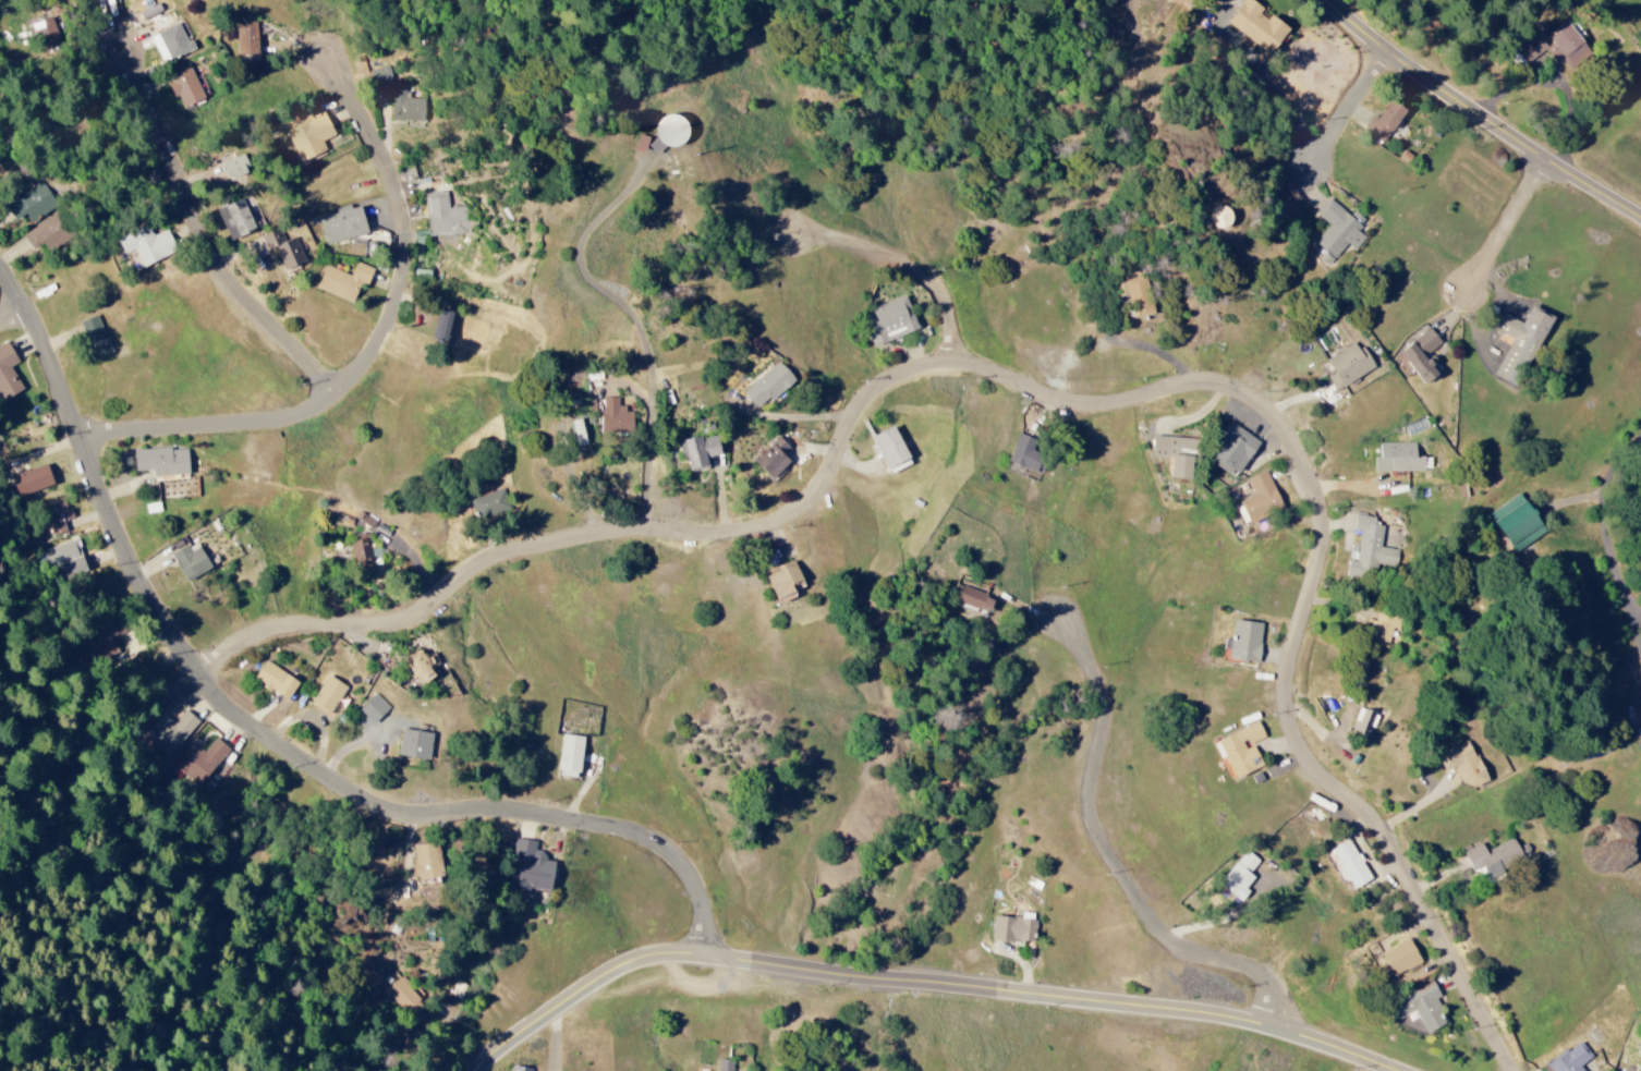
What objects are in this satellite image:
building: (1256, 25)
building: (44, 32)
building: (246, 38)
building: (169, 42)
building: (1554, 46)
building: (380, 77)
building: (183, 86)
building: (405, 107)
road: (1353, 108)
road: (1482, 111)
building: (1384, 121)
building: (669, 132)
building: (308, 136)
building: (234, 167)
building: (29, 200)
building: (442, 217)
building: (1220, 217)
building: (236, 218)
road: (1516, 221)
building: (341, 224)
building: (1337, 231)
building: (42, 235)
road: (212, 235)
building: (145, 244)
building: (282, 250)
building: (343, 281)
road: (965, 295)
road: (15, 318)
building: (890, 321)
road: (961, 326)
building: (443, 327)
building: (94, 338)
building: (1519, 344)
road: (378, 352)
building: (1421, 355)
building: (1346, 366)
building: (7, 373)
building: (767, 386)
road: (1060, 394)
building: (615, 417)
building: (575, 433)
building: (890, 450)
building: (1231, 450)
building: (697, 451)
building: (1175, 454)
building: (773, 459)
building: (1399, 459)
building: (161, 461)
road: (665, 472)
building: (31, 480)
building: (1259, 499)
building: (488, 503)
building: (56, 515)
building: (1516, 523)
building: (1369, 548)
building: (61, 552)
building: (190, 561)
building: (72, 568)
building: (782, 583)
building: (972, 599)
building: (1381, 630)
building: (105, 638)
building: (1243, 642)
building: (418, 667)
building: (1640, 673)
building: (275, 681)
building: (326, 695)
building: (373, 708)
building: (1363, 721)
road: (270, 730)
building: (169, 732)
building: (413, 745)
building: (569, 756)
building: (198, 760)
building: (1462, 765)
road: (1126, 860)
building: (1496, 860)
building: (425, 862)
building: (1350, 865)
building: (528, 868)
building: (1239, 876)
building: (1012, 929)
building: (1400, 958)
road: (931, 981)
building: (401, 996)
building: (1419, 1009)
building: (1569, 1059)
building: (724, 1066)
building: (519, 1069)

